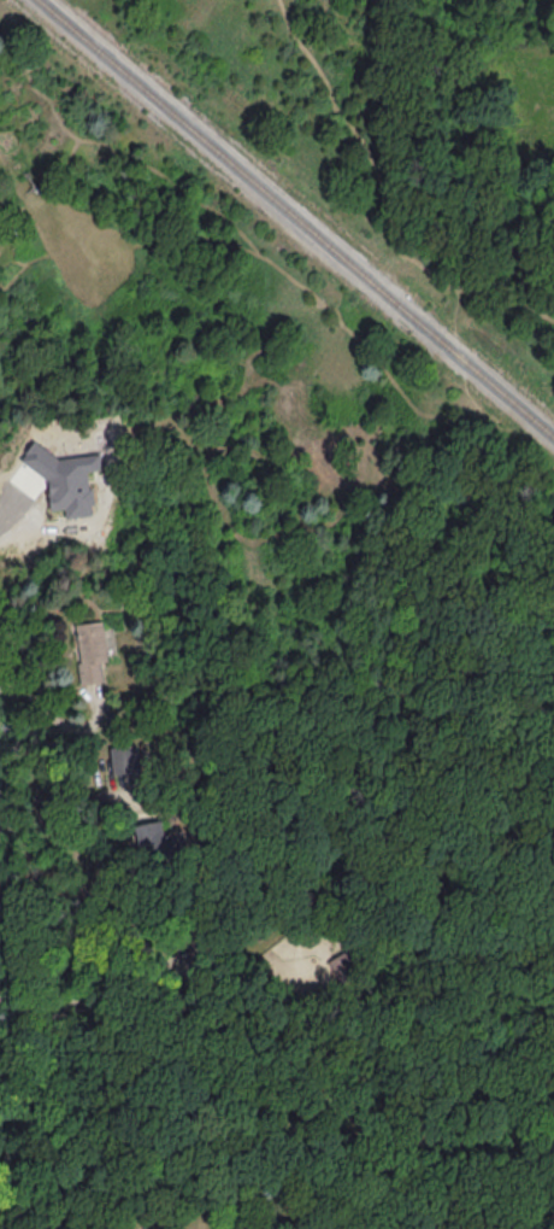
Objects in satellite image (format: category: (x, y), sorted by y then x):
road: (366, 144)
railway: (294, 220)
road: (459, 303)
road: (465, 384)
building: (65, 476)
road: (19, 513)
park: (484, 605)
building: (90, 649)
road: (2, 685)
road: (99, 713)
building: (125, 757)
road: (55, 808)
building: (149, 833)
road: (483, 932)
road: (76, 999)
road: (543, 1147)

